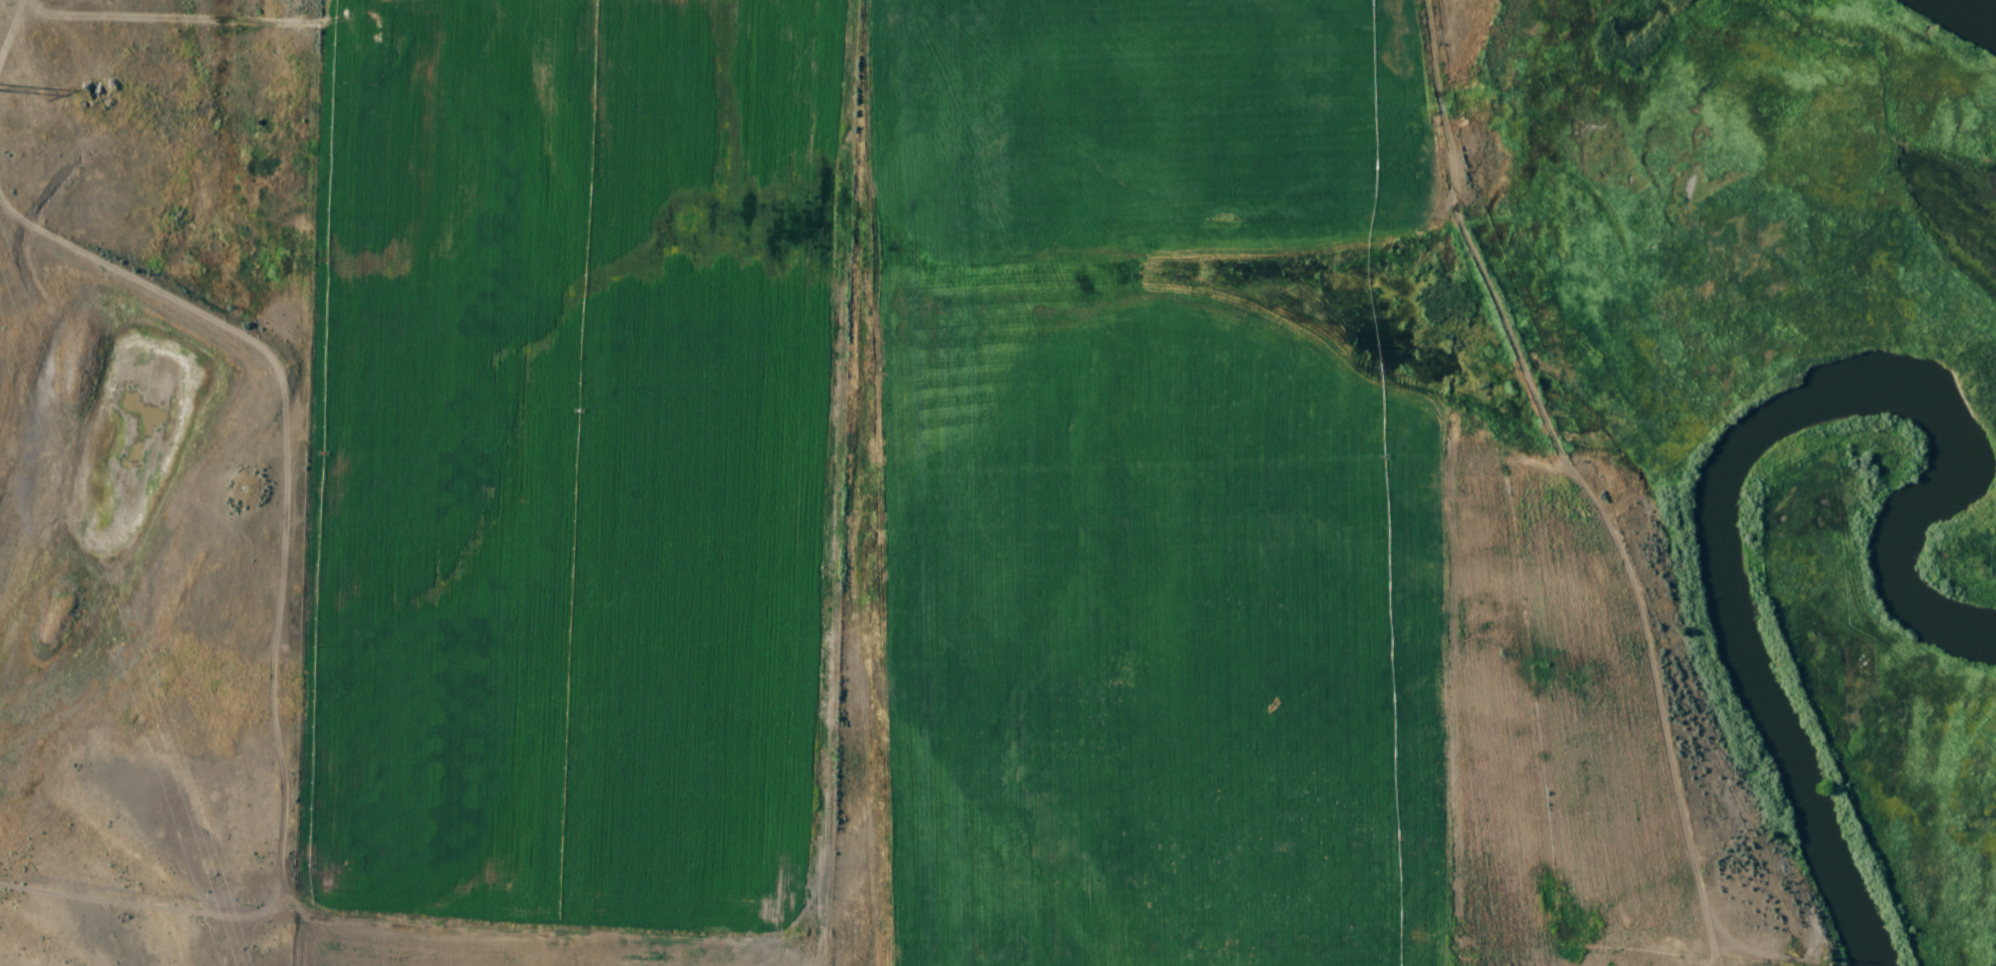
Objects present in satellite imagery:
river: (1993, 1)
river: (1733, 480)

